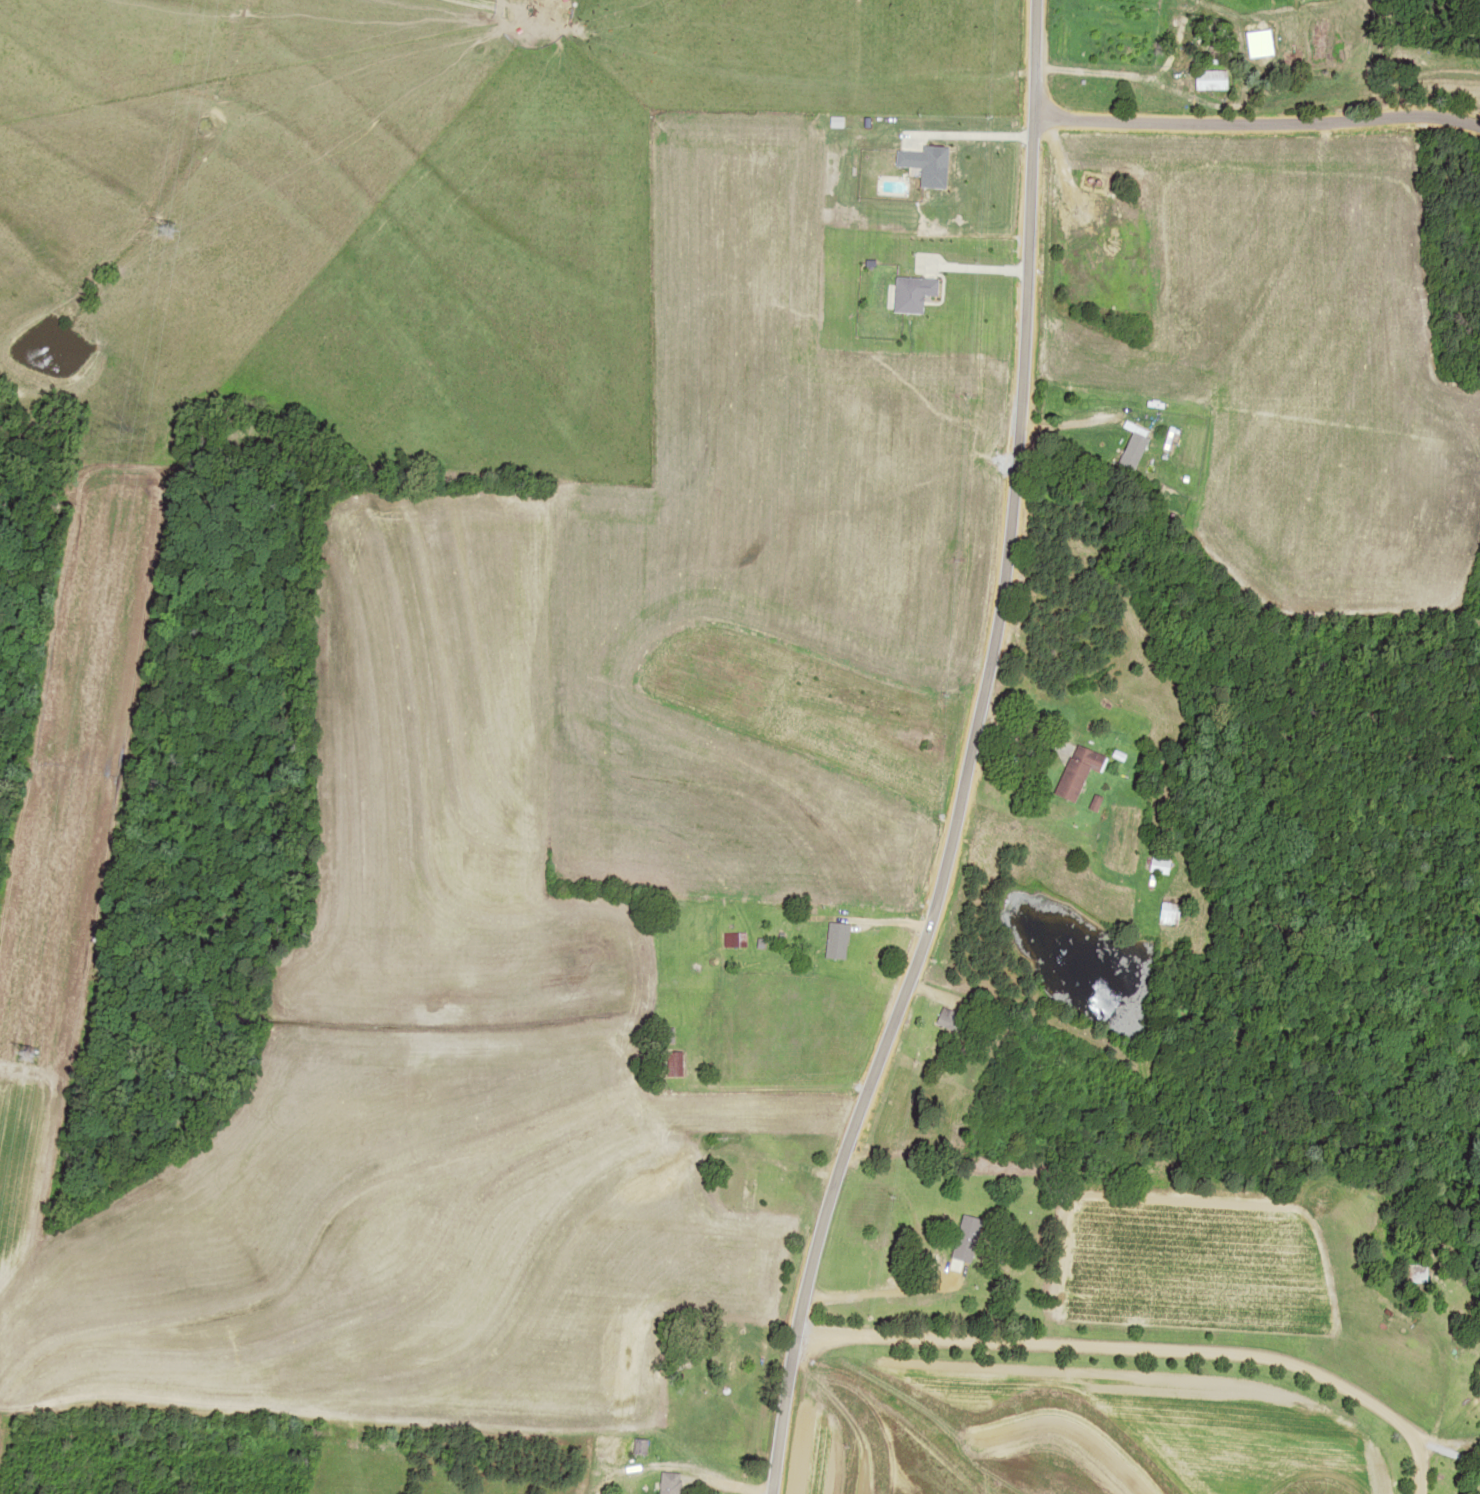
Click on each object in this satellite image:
building: (1203, 80)
road: (1264, 130)
building: (916, 164)
building: (904, 291)
building: (1125, 444)
road: (963, 758)
building: (1066, 770)
building: (1151, 865)
building: (1163, 913)
building: (728, 939)
building: (830, 940)
building: (946, 1019)
building: (669, 1063)
building: (959, 1238)
building: (1408, 1273)
building: (731, 1360)
road: (924, 1464)
building: (666, 1482)

